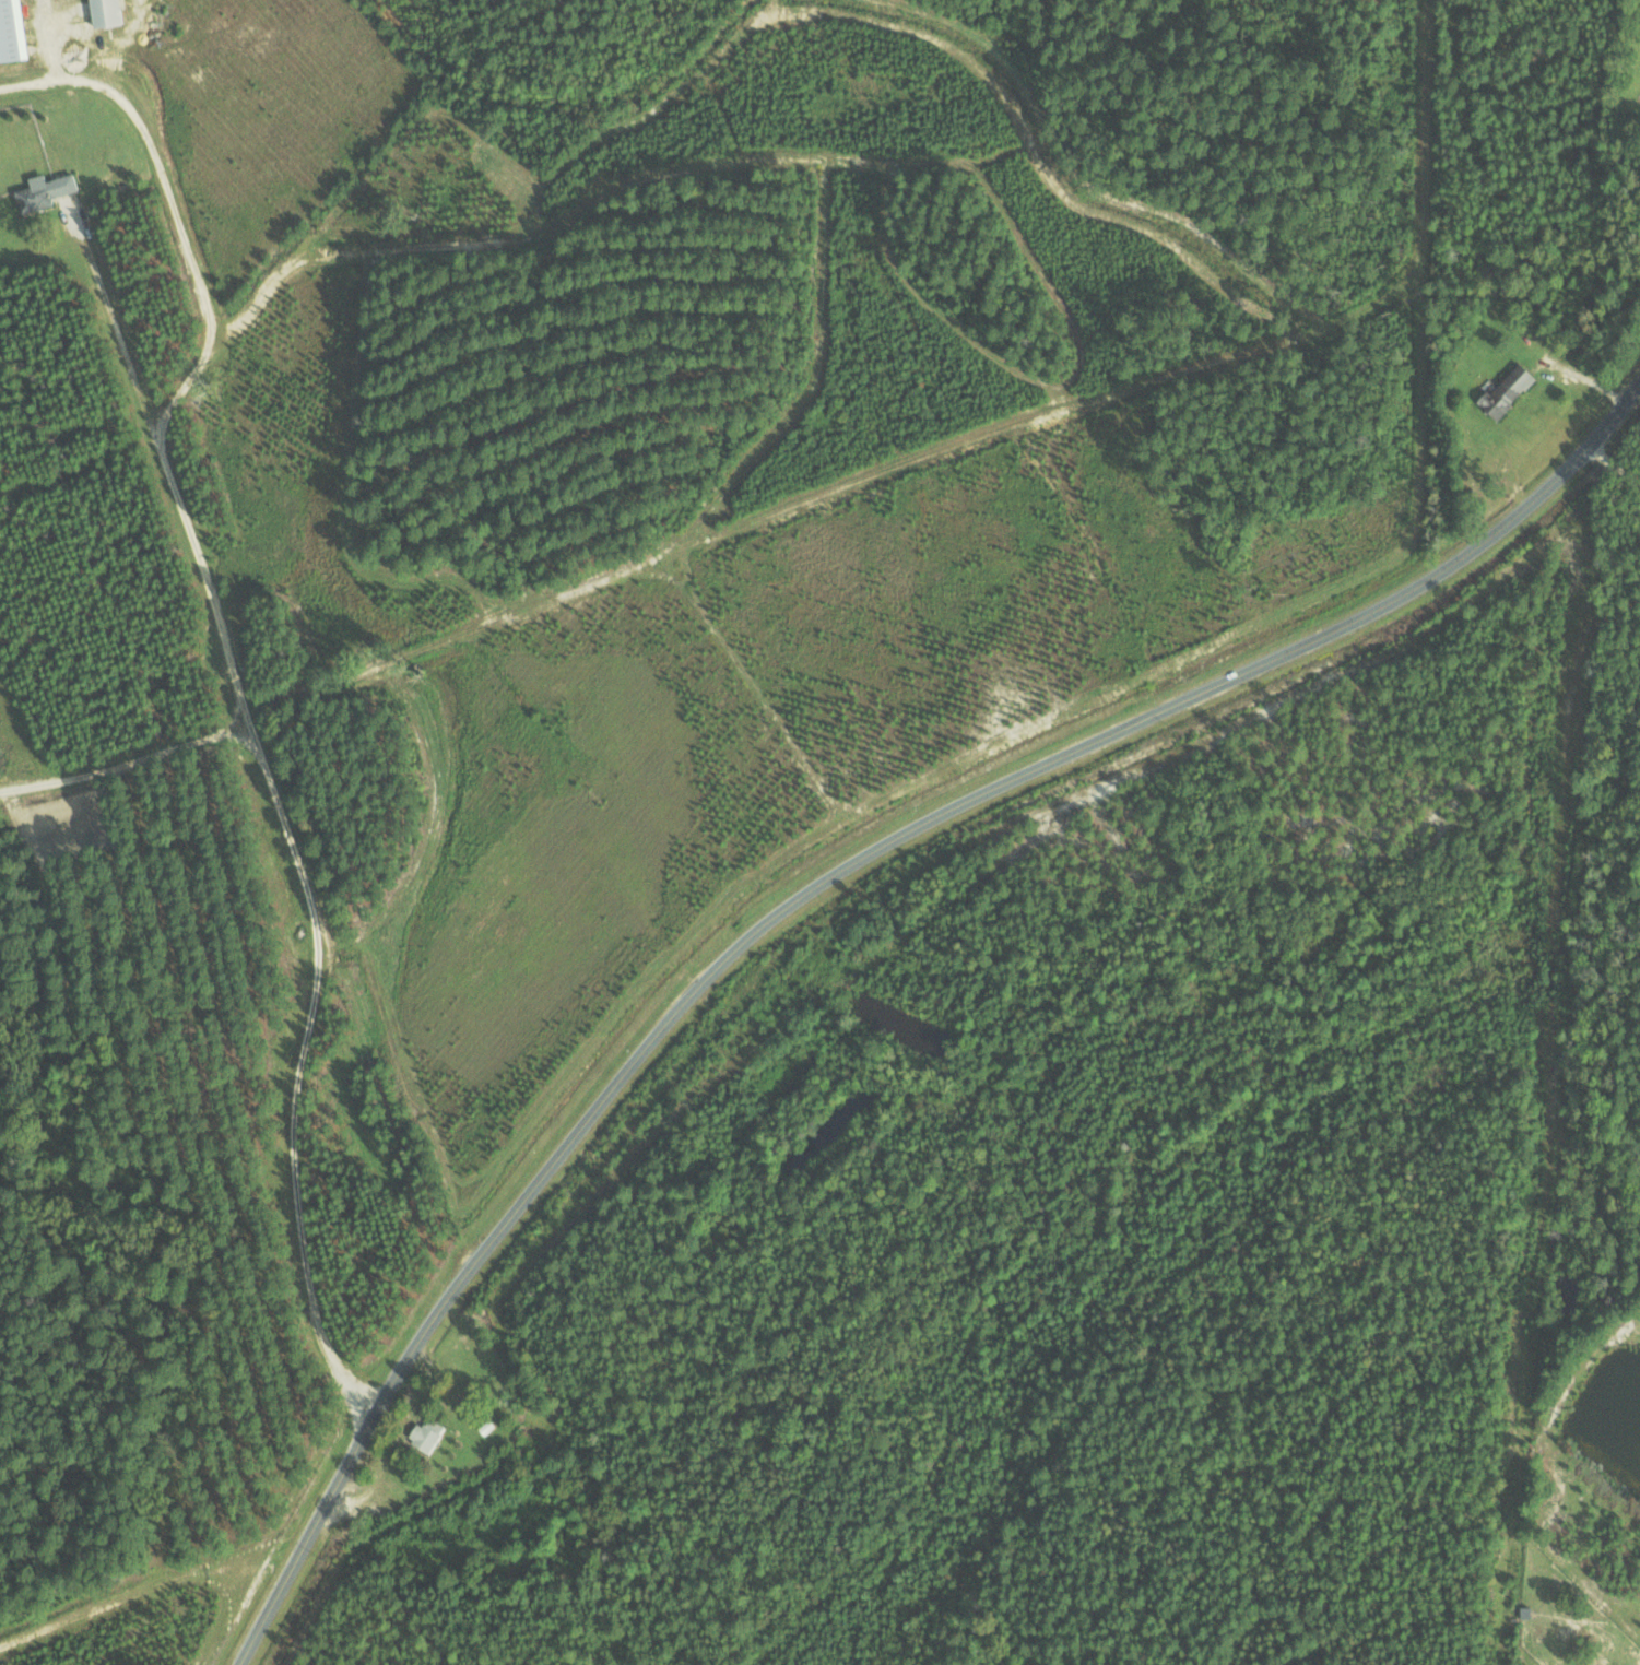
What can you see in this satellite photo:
building: (113, 12)
building: (19, 29)
building: (50, 190)
building: (1502, 391)
road: (1614, 462)
road: (240, 687)
road: (816, 886)
building: (429, 1434)

